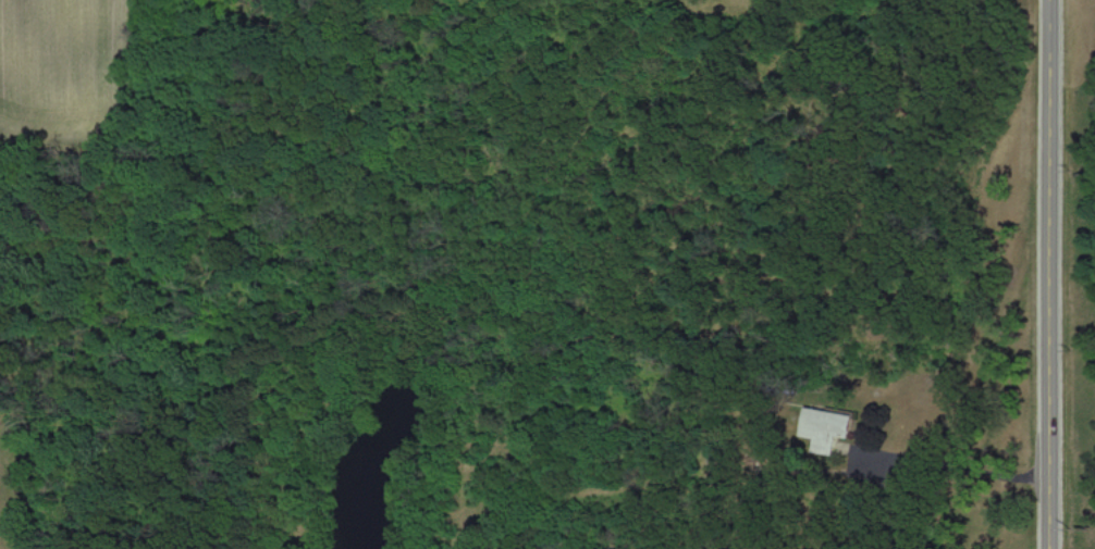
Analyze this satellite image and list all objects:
road: (1049, 274)
building: (845, 425)
road: (955, 463)

